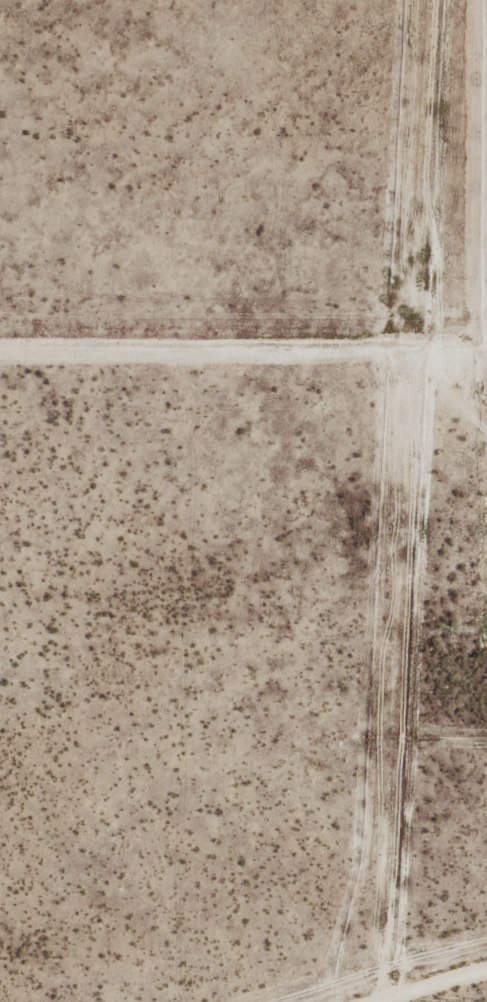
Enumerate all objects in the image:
road: (436, 985)

